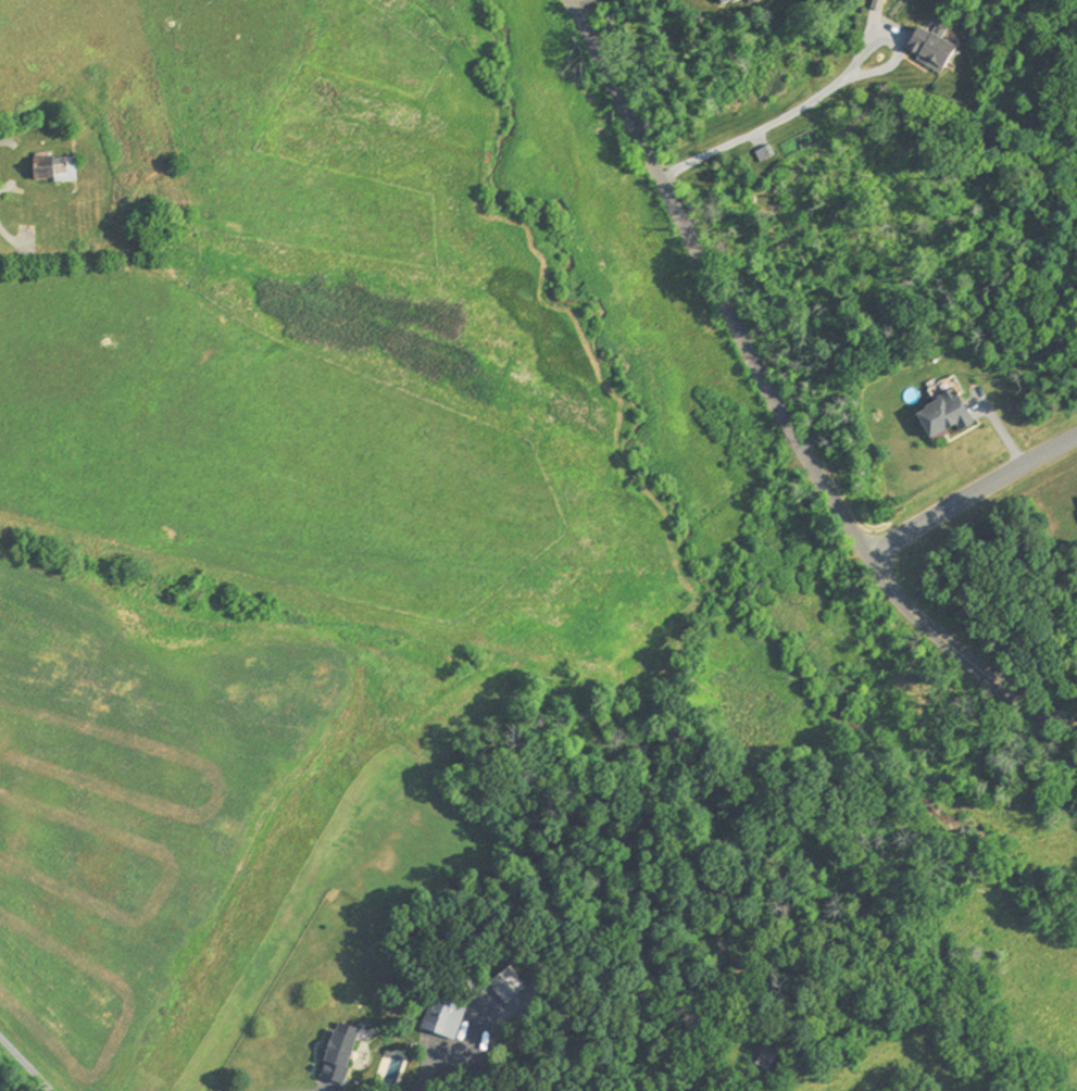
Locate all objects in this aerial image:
building: (727, 2)
road: (584, 5)
building: (926, 49)
road: (813, 98)
building: (50, 171)
building: (93, 200)
building: (24, 216)
road: (777, 402)
building: (940, 418)
road: (969, 496)
building: (439, 1019)
building: (763, 1058)
building: (333, 1059)
road: (25, 1065)

